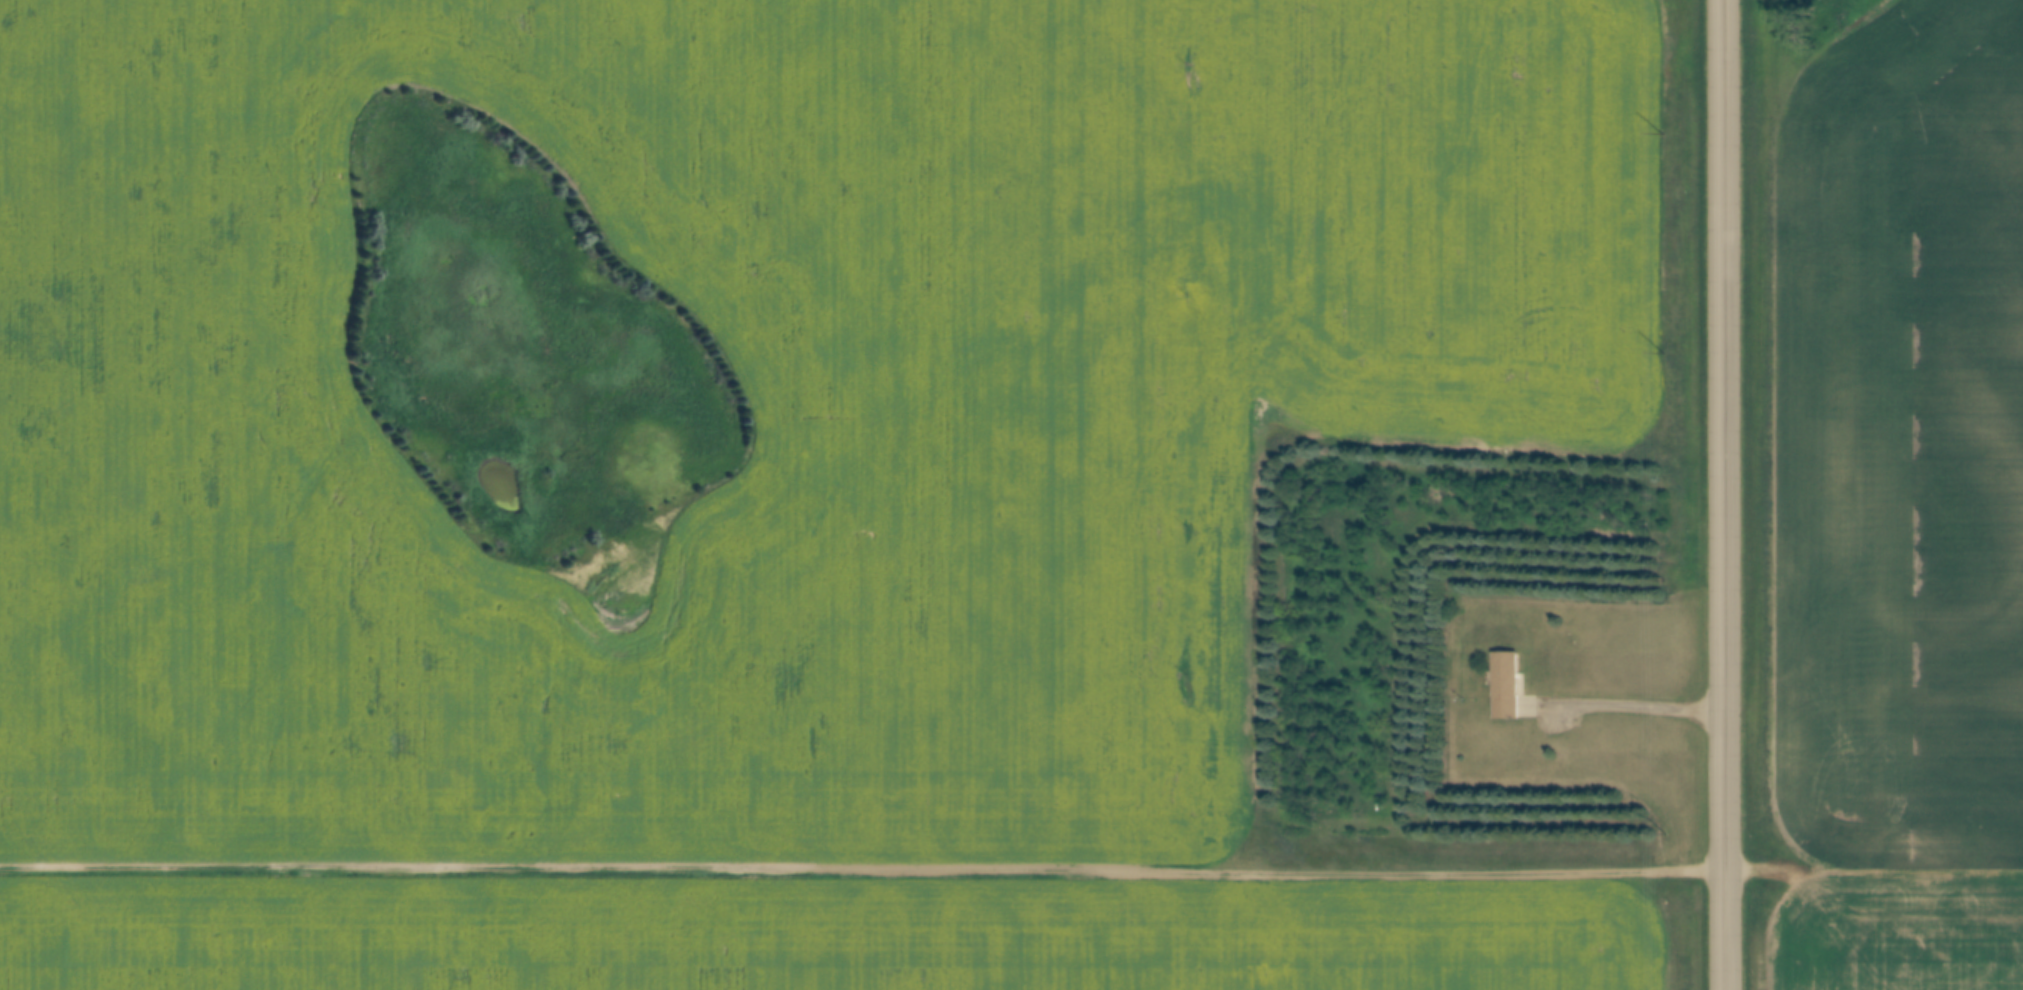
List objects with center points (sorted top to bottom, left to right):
road: (1724, 495)
building: (1508, 679)
road: (1627, 706)
road: (864, 870)

